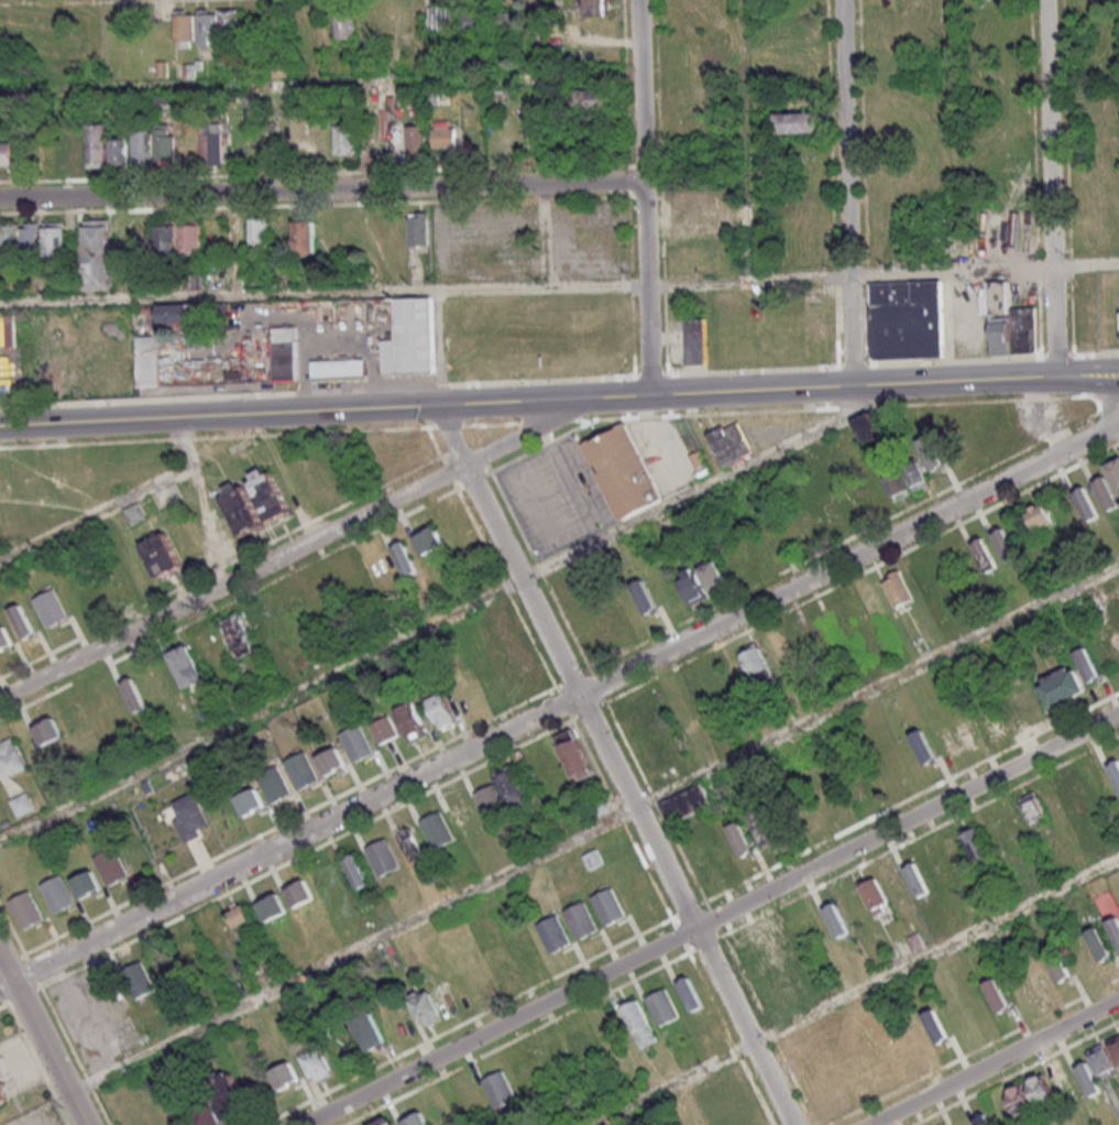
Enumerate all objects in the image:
building: (596, 8)
building: (442, 19)
building: (508, 21)
building: (344, 23)
building: (276, 24)
building: (219, 25)
building: (185, 28)
building: (590, 99)
building: (518, 118)
building: (796, 121)
building: (443, 133)
road: (947, 135)
building: (347, 140)
building: (415, 140)
road: (745, 140)
building: (212, 144)
building: (98, 145)
building: (154, 145)
building: (119, 151)
building: (7, 153)
building: (78, 153)
road: (321, 190)
road: (1050, 190)
road: (846, 193)
road: (644, 197)
building: (694, 218)
building: (417, 229)
building: (259, 232)
building: (54, 236)
building: (304, 236)
building: (167, 237)
building: (191, 237)
building: (19, 241)
building: (97, 253)
road: (1085, 264)
road: (526, 287)
building: (178, 313)
building: (909, 319)
building: (1009, 323)
building: (413, 339)
building: (698, 341)
building: (285, 353)
building: (147, 360)
building: (10, 367)
building: (338, 369)
road: (886, 384)
road: (625, 396)
road: (298, 411)
road: (559, 419)
building: (867, 428)
road: (533, 429)
building: (728, 444)
building: (932, 454)
building: (619, 471)
building: (1113, 472)
building: (915, 474)
building: (896, 483)
building: (1106, 493)
building: (876, 494)
parking lot: (553, 498)
building: (254, 501)
road: (120, 502)
building: (1085, 503)
building: (134, 512)
building: (834, 513)
building: (1039, 515)
building: (428, 539)
building: (1003, 545)
road: (506, 550)
building: (161, 555)
building: (984, 555)
building: (403, 558)
road: (851, 559)
building: (712, 575)
road: (234, 580)
building: (922, 580)
building: (691, 586)
building: (897, 588)
building: (644, 596)
building: (51, 608)
building: (22, 621)
road: (436, 621)
building: (238, 633)
building: (6, 637)
building: (753, 658)
building: (1087, 663)
building: (186, 665)
building: (522, 665)
building: (1061, 686)
building: (133, 693)
building: (439, 710)
building: (410, 721)
building: (383, 729)
building: (47, 731)
building: (355, 742)
building: (923, 746)
building: (573, 754)
building: (11, 757)
building: (330, 760)
building: (301, 769)
building: (1115, 771)
building: (275, 784)
building: (503, 795)
building: (1079, 797)
building: (249, 800)
building: (684, 802)
building: (21, 804)
building: (1034, 808)
building: (461, 811)
building: (188, 816)
road: (593, 827)
building: (436, 829)
building: (764, 831)
road: (290, 838)
building: (739, 839)
building: (975, 841)
building: (410, 844)
building: (383, 856)
building: (592, 859)
building: (111, 865)
building: (356, 871)
building: (917, 880)
building: (86, 883)
building: (57, 893)
building: (299, 893)
building: (873, 895)
building: (607, 905)
building: (272, 906)
building: (25, 909)
road: (685, 910)
building: (240, 915)
road: (710, 917)
building: (580, 919)
building: (835, 919)
building: (1113, 928)
building: (552, 932)
building: (1098, 943)
building: (1058, 964)
building: (138, 980)
road: (852, 990)
building: (690, 994)
building: (997, 995)
building: (661, 1006)
building: (426, 1007)
building: (638, 1022)
building: (936, 1027)
building: (370, 1030)
road: (42, 1040)
building: (1115, 1047)
building: (1100, 1059)
road: (995, 1062)
building: (318, 1066)
building: (284, 1074)
building: (1087, 1079)
building: (1040, 1088)
building: (498, 1089)
building: (228, 1093)
building: (2, 1095)
building: (1019, 1099)
building: (207, 1115)
building: (980, 1119)
building: (385, 1121)

